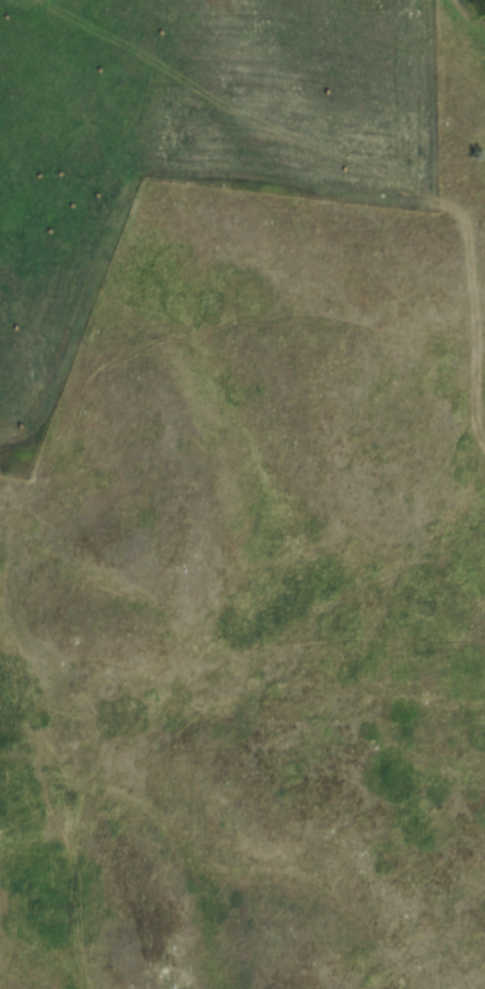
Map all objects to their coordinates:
crop: (181, 135)

